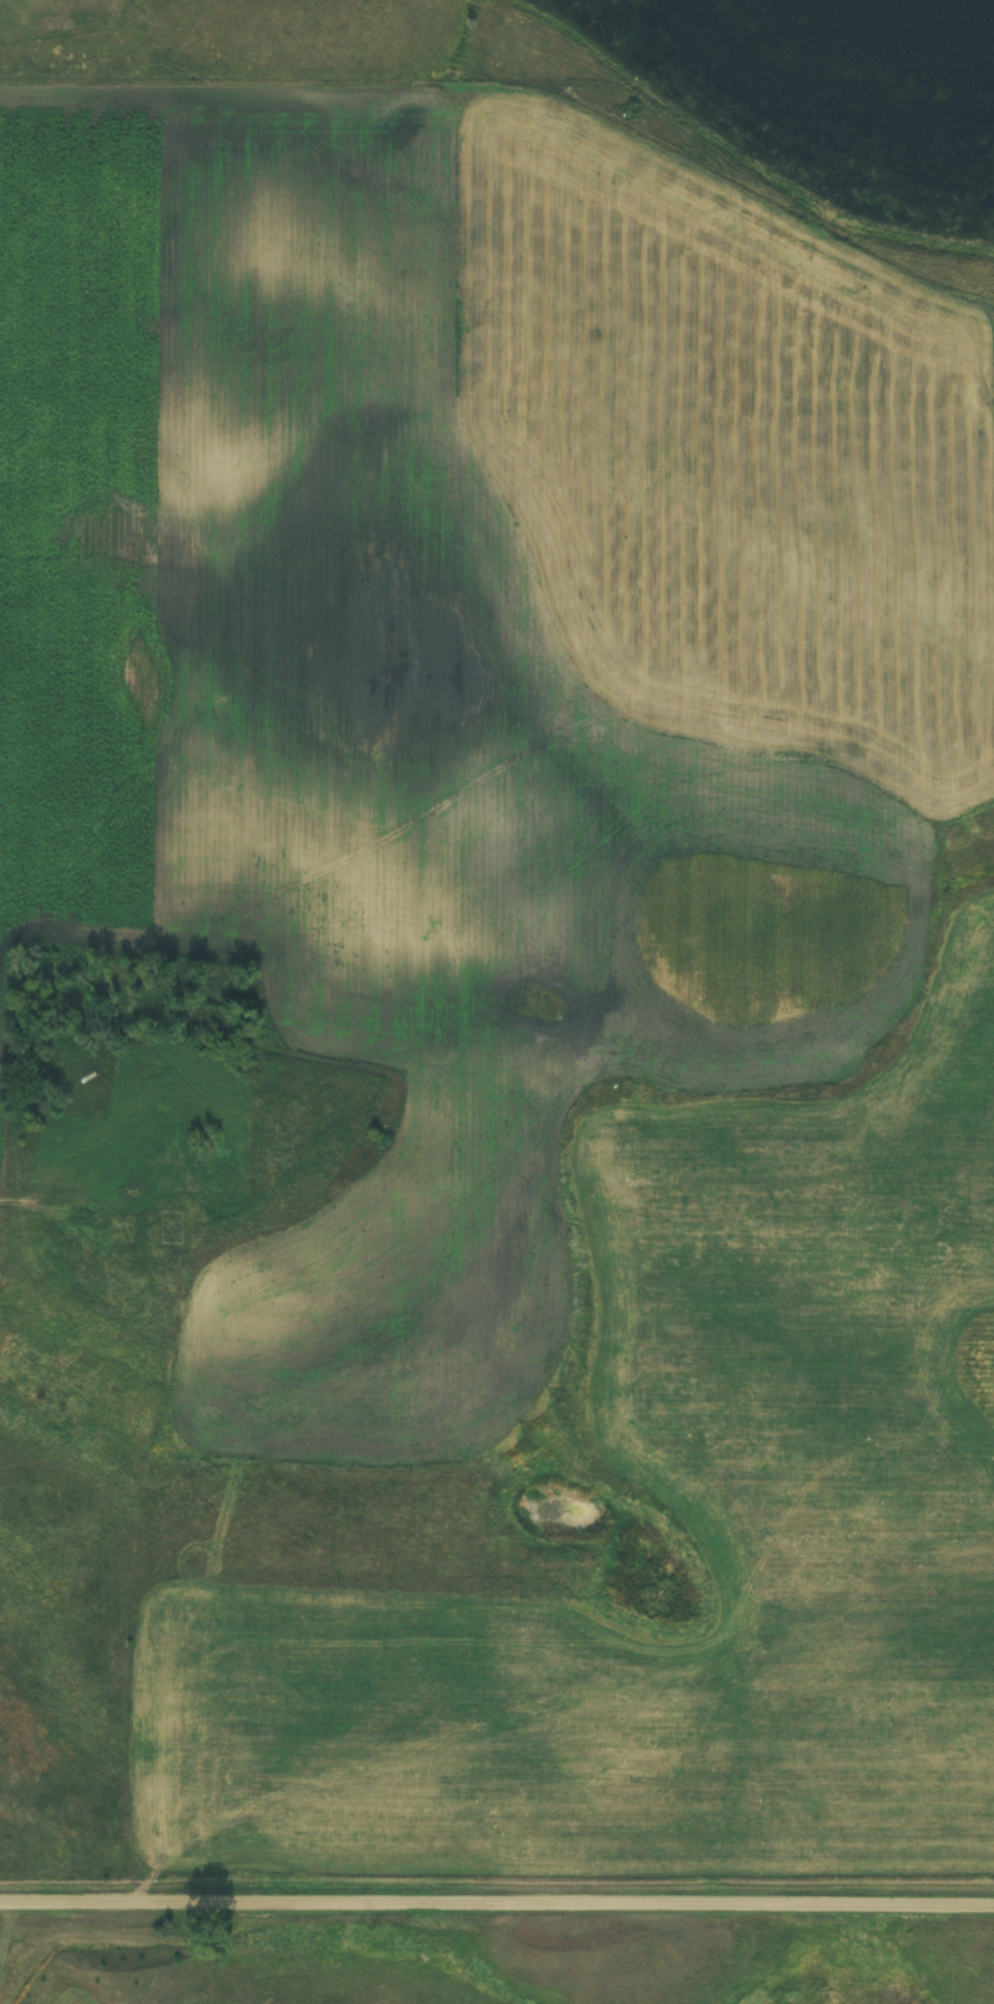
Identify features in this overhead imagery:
road: (497, 1910)

